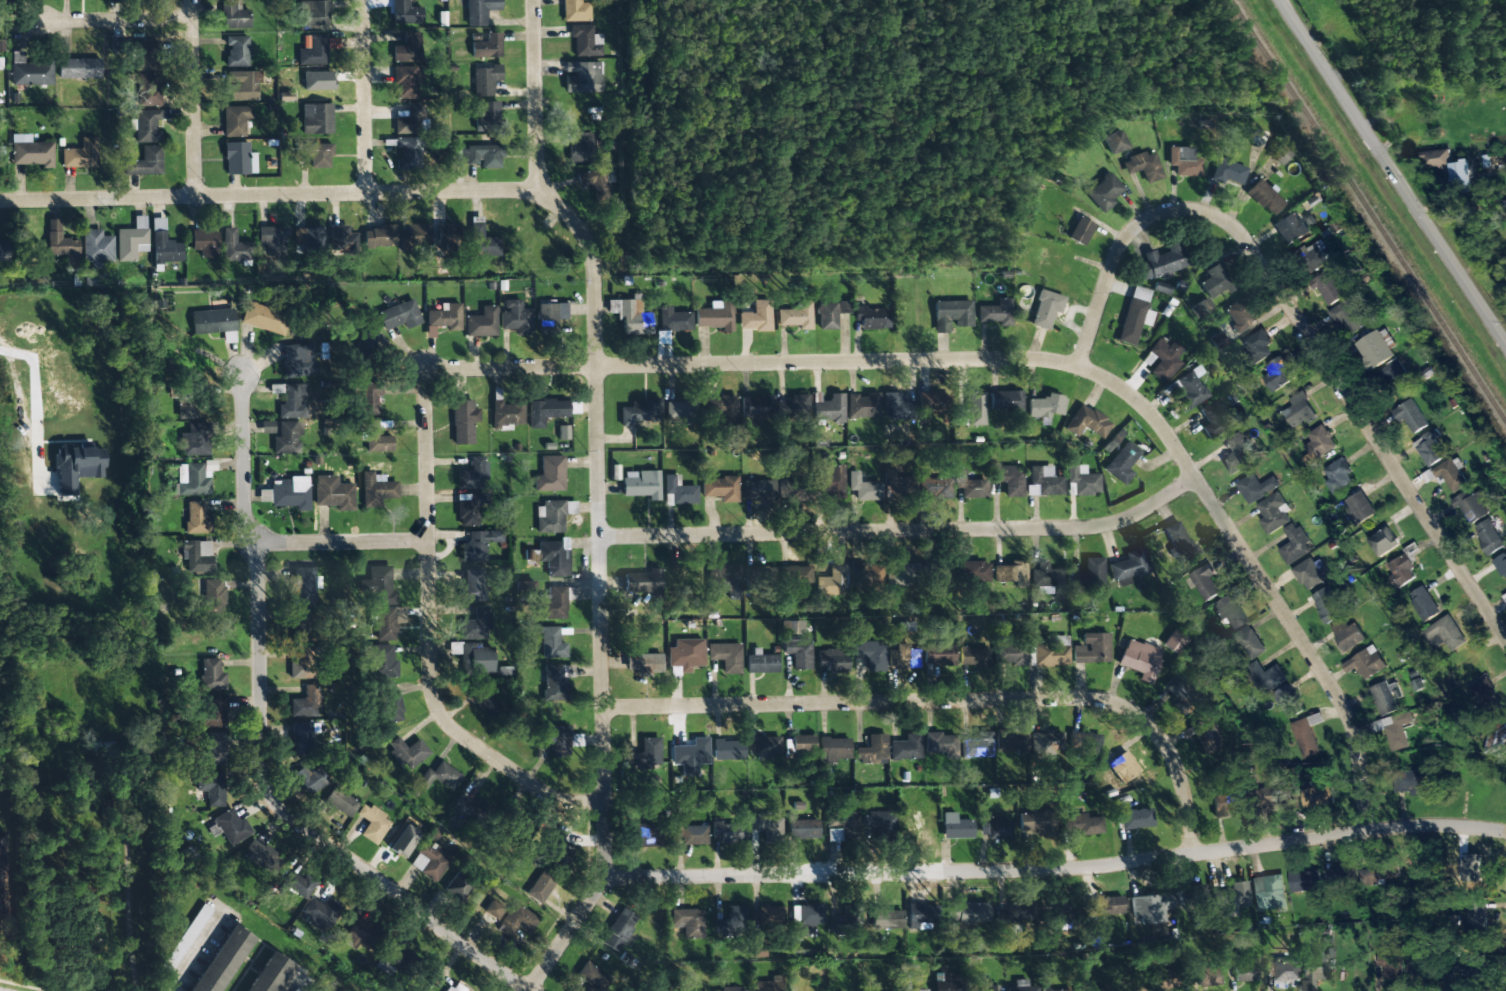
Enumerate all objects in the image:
building: (479, 11)
building: (576, 11)
building: (314, 13)
building: (405, 13)
building: (233, 15)
road: (119, 20)
building: (586, 41)
building: (486, 46)
building: (407, 48)
building: (312, 50)
building: (237, 51)
building: (143, 56)
building: (79, 68)
building: (30, 71)
building: (583, 77)
building: (485, 80)
building: (405, 82)
building: (243, 85)
building: (147, 89)
road: (365, 96)
road: (194, 98)
building: (488, 118)
building: (316, 119)
building: (410, 119)
building: (235, 120)
building: (145, 126)
building: (1117, 142)
building: (582, 147)
building: (31, 151)
building: (408, 153)
building: (1279, 153)
building: (81, 154)
building: (320, 155)
building: (480, 156)
building: (239, 159)
building: (1436, 159)
building: (144, 162)
building: (1184, 162)
building: (1143, 167)
building: (1228, 172)
road: (1393, 172)
building: (1461, 173)
building: (596, 182)
building: (1104, 192)
road: (269, 195)
building: (1264, 197)
railway: (1368, 211)
building: (1291, 229)
building: (1080, 231)
building: (447, 234)
building: (416, 236)
building: (308, 237)
building: (379, 237)
building: (342, 239)
building: (132, 240)
building: (272, 240)
building: (482, 242)
building: (205, 243)
building: (61, 244)
building: (164, 245)
building: (235, 247)
building: (97, 248)
building: (4, 251)
building: (1312, 256)
building: (1161, 263)
building: (1216, 281)
building: (1328, 288)
building: (1200, 308)
building: (1046, 309)
building: (996, 313)
building: (831, 314)
building: (951, 314)
building: (399, 315)
building: (550, 315)
building: (1135, 315)
building: (1239, 315)
building: (796, 316)
building: (1350, 316)
building: (445, 317)
building: (515, 317)
building: (630, 317)
building: (715, 317)
building: (871, 317)
building: (263, 318)
building: (757, 318)
building: (673, 320)
building: (215, 323)
building: (482, 323)
road: (1300, 327)
building: (1217, 341)
building: (1257, 344)
building: (1375, 348)
building: (365, 353)
building: (1164, 359)
building: (297, 360)
road: (757, 363)
building: (1278, 374)
building: (1191, 388)
building: (368, 399)
building: (1006, 400)
building: (293, 401)
building: (927, 403)
building: (896, 405)
building: (797, 406)
building: (863, 406)
building: (1045, 406)
building: (758, 407)
building: (187, 408)
building: (828, 408)
building: (681, 409)
building: (976, 409)
road: (21, 410)
building: (723, 410)
building: (1298, 410)
building: (546, 411)
building: (638, 412)
building: (506, 415)
building: (1411, 417)
building: (1215, 418)
building: (463, 421)
building: (1087, 422)
building: (286, 438)
building: (376, 438)
building: (195, 440)
building: (1319, 443)
building: (1429, 448)
building: (1237, 454)
building: (1122, 463)
building: (77, 467)
building: (472, 474)
building: (550, 474)
building: (1450, 475)
building: (1338, 476)
building: (192, 480)
building: (1010, 480)
building: (1081, 481)
building: (831, 482)
building: (1044, 482)
building: (641, 483)
building: (969, 485)
building: (903, 487)
building: (935, 487)
building: (720, 488)
building: (863, 488)
building: (1256, 488)
building: (376, 489)
building: (793, 489)
building: (757, 490)
building: (678, 492)
building: (291, 493)
building: (334, 493)
building: (264, 495)
road: (599, 495)
building: (1471, 506)
building: (1359, 508)
building: (469, 509)
building: (1273, 513)
building: (552, 516)
building: (197, 518)
road: (904, 530)
building: (1488, 537)
building: (1383, 541)
road: (341, 542)
building: (1178, 542)
building: (1294, 544)
building: (478, 545)
building: (197, 556)
building: (554, 558)
building: (1501, 565)
building: (1128, 567)
building: (1402, 569)
building: (929, 570)
building: (973, 572)
building: (1009, 573)
building: (1090, 573)
building: (692, 574)
building: (761, 574)
building: (795, 574)
building: (863, 574)
building: (1308, 574)
building: (901, 575)
road: (1259, 577)
building: (723, 578)
building: (1044, 578)
building: (832, 581)
building: (1205, 582)
building: (644, 583)
building: (473, 585)
building: (301, 586)
building: (380, 586)
building: (213, 596)
building: (553, 604)
building: (1423, 604)
building: (1326, 605)
building: (1229, 612)
building: (388, 622)
building: (476, 624)
building: (300, 625)
building: (1446, 633)
building: (1348, 635)
road: (431, 638)
building: (1247, 641)
building: (1175, 642)
building: (552, 644)
building: (1092, 649)
building: (1051, 651)
building: (799, 653)
building: (685, 654)
building: (1009, 654)
building: (870, 655)
building: (944, 655)
building: (726, 657)
building: (972, 657)
building: (903, 658)
building: (476, 659)
building: (1140, 659)
building: (832, 660)
building: (381, 662)
building: (643, 662)
building: (761, 662)
building: (301, 663)
building: (1367, 663)
building: (211, 675)
building: (1265, 677)
building: (554, 684)
building: (1178, 692)
building: (1482, 697)
building: (1385, 698)
building: (485, 700)
road: (949, 701)
building: (1287, 702)
building: (305, 703)
building: (388, 704)
building: (213, 711)
building: (1497, 727)
building: (1395, 730)
building: (1204, 735)
building: (1305, 738)
building: (302, 739)
building: (552, 740)
building: (1011, 742)
building: (1084, 742)
building: (1044, 743)
building: (803, 744)
building: (940, 744)
building: (1495, 744)
building: (977, 746)
road: (263, 747)
building: (764, 747)
building: (216, 748)
building: (906, 748)
building: (834, 749)
building: (727, 750)
building: (872, 750)
building: (408, 752)
building: (692, 752)
building: (639, 759)
building: (1121, 766)
building: (439, 777)
building: (310, 779)
building: (1413, 782)
building: (212, 787)
building: (1318, 795)
building: (1272, 796)
building: (340, 802)
building: (1224, 803)
building: (462, 810)
building: (1136, 819)
building: (372, 823)
building: (879, 823)
building: (1037, 823)
building: (1082, 824)
building: (766, 826)
building: (842, 827)
building: (956, 827)
building: (803, 828)
building: (995, 828)
building: (724, 834)
building: (648, 835)
building: (692, 835)
building: (396, 843)
building: (560, 852)
building: (261, 856)
building: (430, 861)
road: (1054, 869)
building: (1, 871)
building: (1376, 874)
building: (1339, 875)
building: (1466, 877)
building: (1305, 880)
building: (299, 884)
building: (458, 887)
building: (541, 887)
building: (1268, 893)
building: (1230, 899)
building: (1110, 905)
building: (1150, 907)
building: (494, 909)
building: (321, 913)
building: (966, 913)
building: (735, 916)
building: (770, 916)
building: (920, 917)
building: (806, 919)
building: (892, 919)
building: (1476, 919)
building: (517, 921)
building: (688, 922)
building: (618, 930)
building: (362, 933)
building: (187, 937)
building: (758, 950)
building: (223, 960)
building: (1391, 964)
building: (1473, 968)
building: (1312, 969)
building: (1280, 970)
building: (1243, 972)
building: (270, 974)
building: (592, 976)
building: (1204, 977)
building: (1146, 982)
building: (947, 983)
building: (769, 985)
building: (455, 987)
building: (1089, 987)
building: (1023, 988)
building: (731, 989)
building: (986, 989)
building: (921, 990)
building: (1055, 990)

